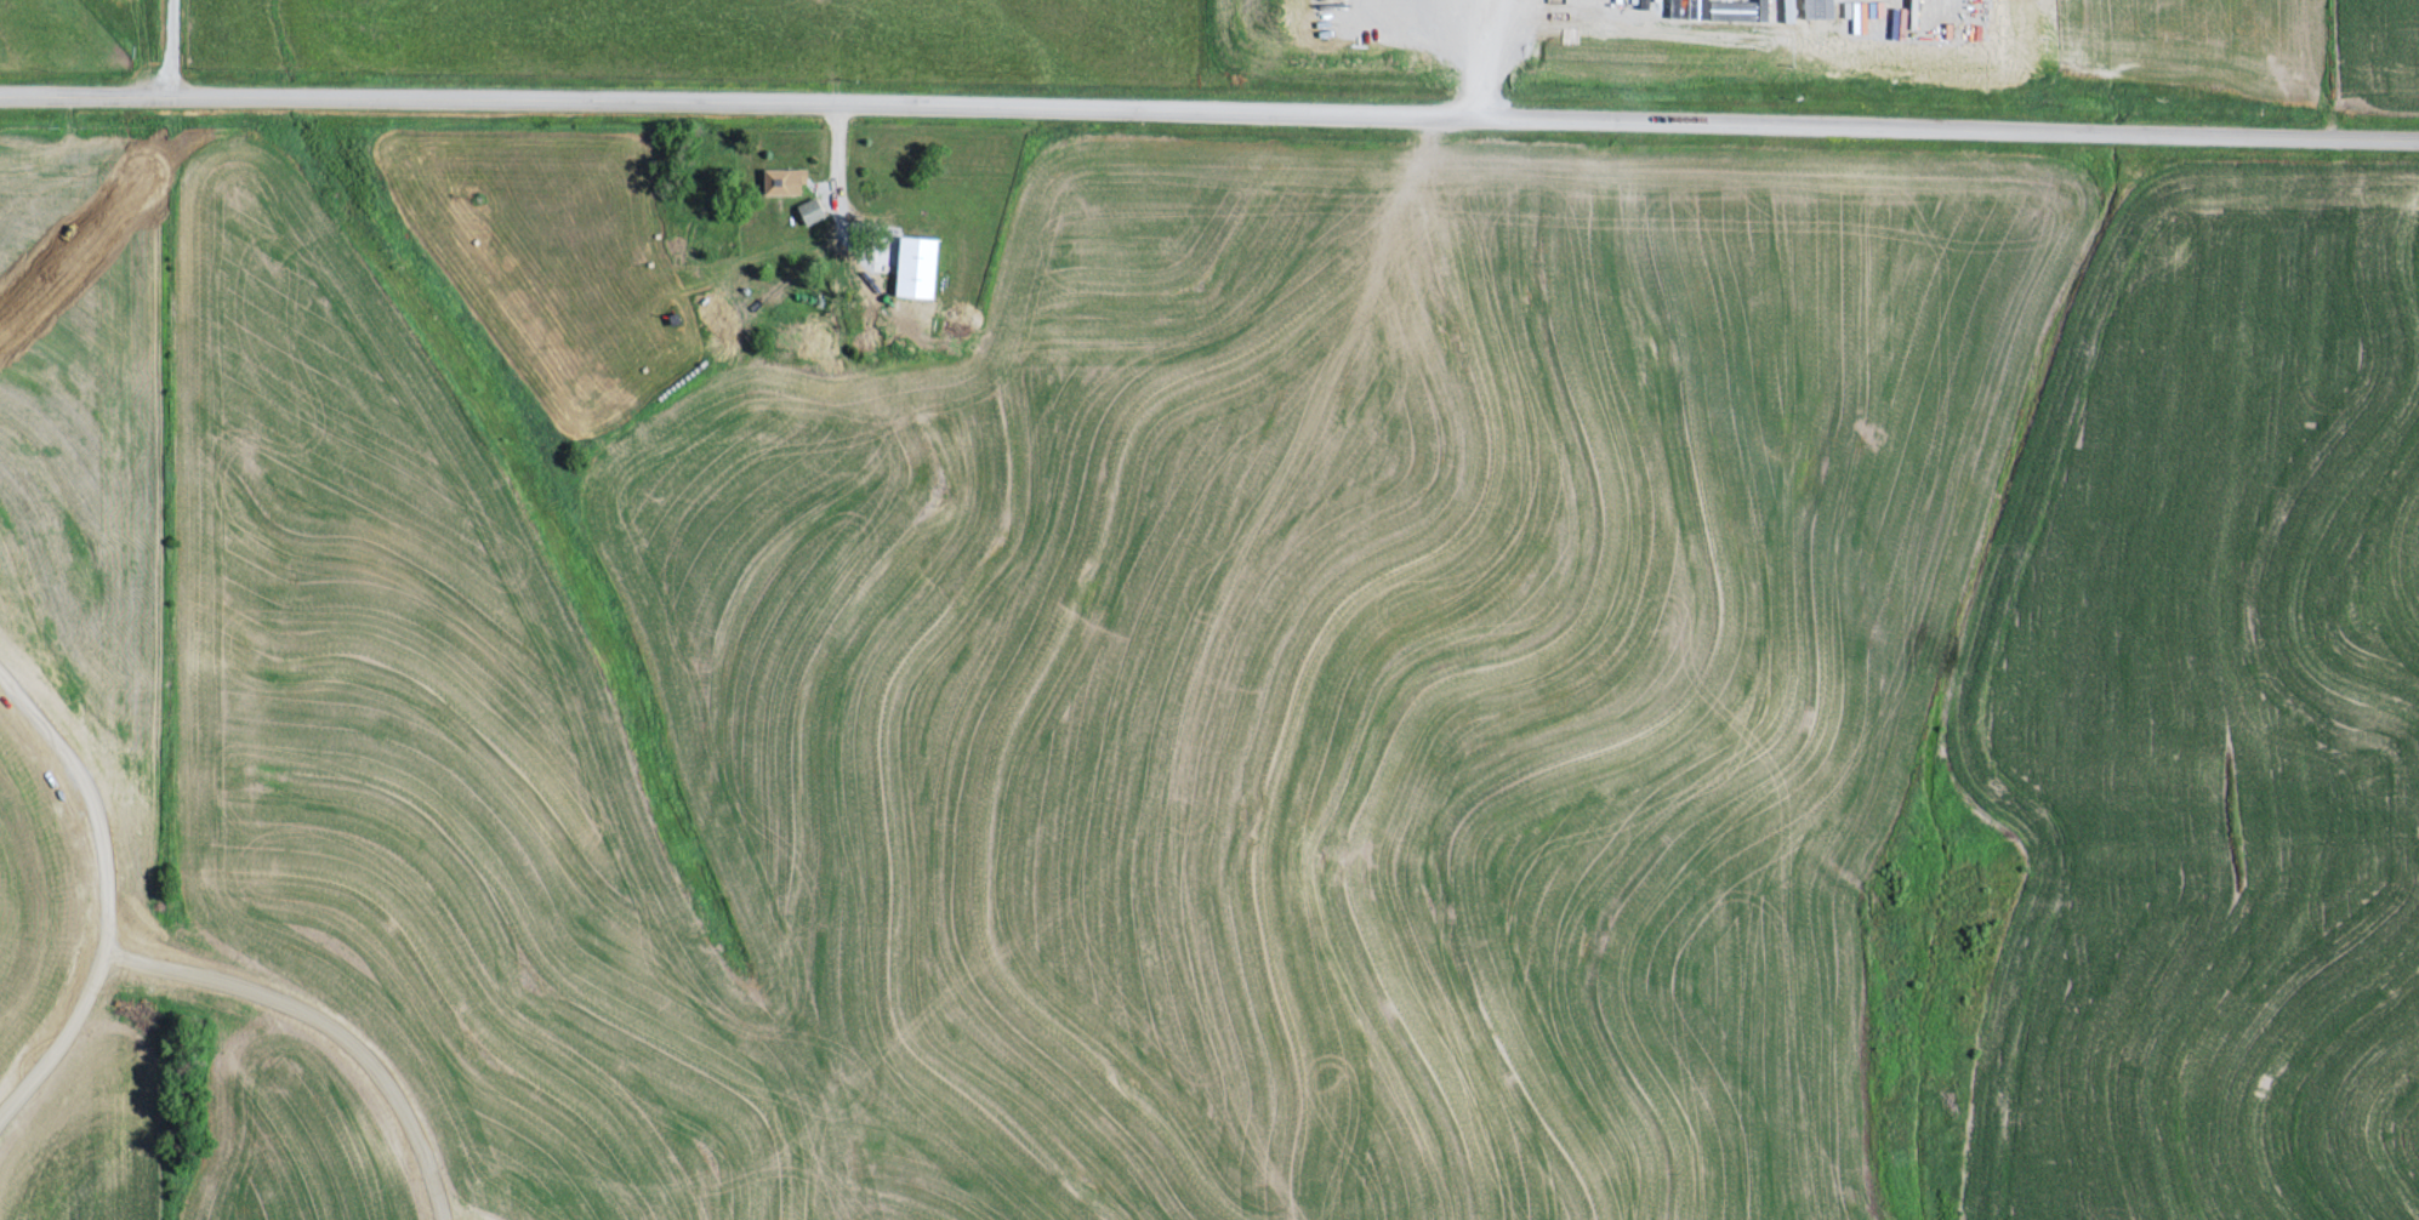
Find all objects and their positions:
road: (175, 49)
road: (1209, 116)
building: (785, 179)
building: (812, 209)
road: (115, 220)
building: (916, 264)
road: (112, 896)

